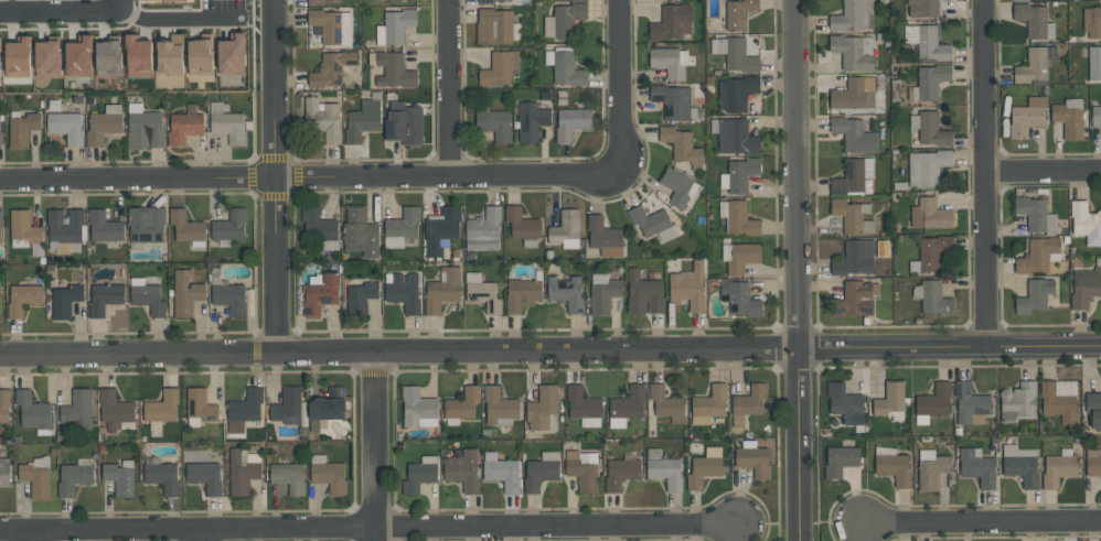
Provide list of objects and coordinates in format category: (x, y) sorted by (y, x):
building: (162, 0)
building: (1020, 0)
building: (324, 1)
building: (922, 8)
building: (738, 12)
road: (61, 13)
building: (853, 15)
road: (175, 18)
building: (567, 19)
building: (1033, 20)
building: (672, 22)
building: (1092, 22)
building: (397, 24)
building: (327, 25)
building: (494, 25)
building: (0, 40)
building: (927, 42)
building: (854, 51)
building: (138, 55)
building: (170, 55)
building: (231, 55)
building: (78, 56)
building: (200, 56)
building: (739, 56)
building: (18, 57)
building: (108, 57)
building: (47, 58)
building: (666, 62)
building: (1094, 63)
building: (1035, 64)
building: (332, 68)
building: (496, 68)
building: (568, 69)
building: (394, 71)
building: (931, 80)
road: (621, 86)
road: (449, 88)
building: (737, 93)
building: (852, 96)
building: (672, 101)
building: (1095, 116)
building: (1027, 117)
building: (322, 119)
building: (363, 120)
building: (532, 121)
building: (1068, 121)
building: (571, 122)
building: (226, 123)
building: (404, 123)
building: (494, 125)
building: (66, 127)
building: (103, 127)
building: (184, 128)
building: (932, 129)
building: (21, 130)
building: (146, 130)
building: (854, 133)
building: (736, 138)
building: (0, 139)
building: (681, 144)
building: (927, 166)
road: (1044, 169)
road: (986, 173)
building: (742, 174)
road: (275, 175)
road: (311, 176)
building: (848, 177)
building: (676, 185)
building: (930, 215)
building: (1036, 215)
building: (852, 216)
building: (1, 217)
building: (740, 219)
building: (649, 221)
building: (404, 223)
building: (1086, 223)
building: (147, 224)
building: (317, 224)
building: (523, 224)
building: (231, 225)
building: (105, 226)
building: (565, 226)
building: (24, 227)
building: (186, 227)
building: (441, 229)
building: (64, 230)
building: (483, 230)
building: (602, 232)
building: (360, 234)
building: (933, 252)
building: (1038, 255)
building: (742, 257)
building: (854, 258)
road: (797, 270)
building: (688, 286)
building: (1086, 286)
building: (442, 290)
building: (404, 292)
building: (185, 293)
building: (321, 293)
building: (361, 293)
building: (566, 293)
building: (643, 293)
building: (484, 295)
building: (521, 295)
building: (603, 295)
building: (1035, 296)
building: (148, 297)
building: (23, 299)
building: (105, 299)
building: (231, 299)
building: (739, 299)
building: (934, 299)
building: (856, 300)
building: (65, 301)
road: (949, 347)
road: (398, 354)
building: (889, 399)
building: (710, 401)
building: (934, 401)
building: (1018, 401)
building: (463, 402)
building: (970, 402)
building: (582, 403)
building: (628, 403)
building: (748, 403)
building: (845, 403)
building: (4, 404)
building: (666, 404)
building: (1058, 404)
building: (201, 405)
building: (328, 405)
building: (498, 405)
building: (246, 407)
building: (288, 407)
building: (417, 407)
building: (162, 408)
building: (542, 408)
building: (1093, 408)
building: (32, 410)
building: (78, 410)
building: (114, 411)
road: (375, 447)
building: (753, 461)
building: (840, 461)
building: (1092, 463)
building: (977, 467)
building: (894, 468)
building: (663, 469)
building: (1022, 469)
building: (1058, 469)
building: (703, 470)
building: (4, 472)
building: (463, 472)
building: (932, 472)
building: (503, 473)
building: (539, 473)
building: (582, 473)
building: (620, 473)
building: (242, 474)
building: (205, 476)
building: (289, 476)
building: (330, 476)
building: (419, 476)
building: (162, 477)
building: (74, 478)
building: (119, 478)
building: (36, 480)
road: (982, 524)
road: (367, 530)
road: (31, 538)
road: (203, 538)

